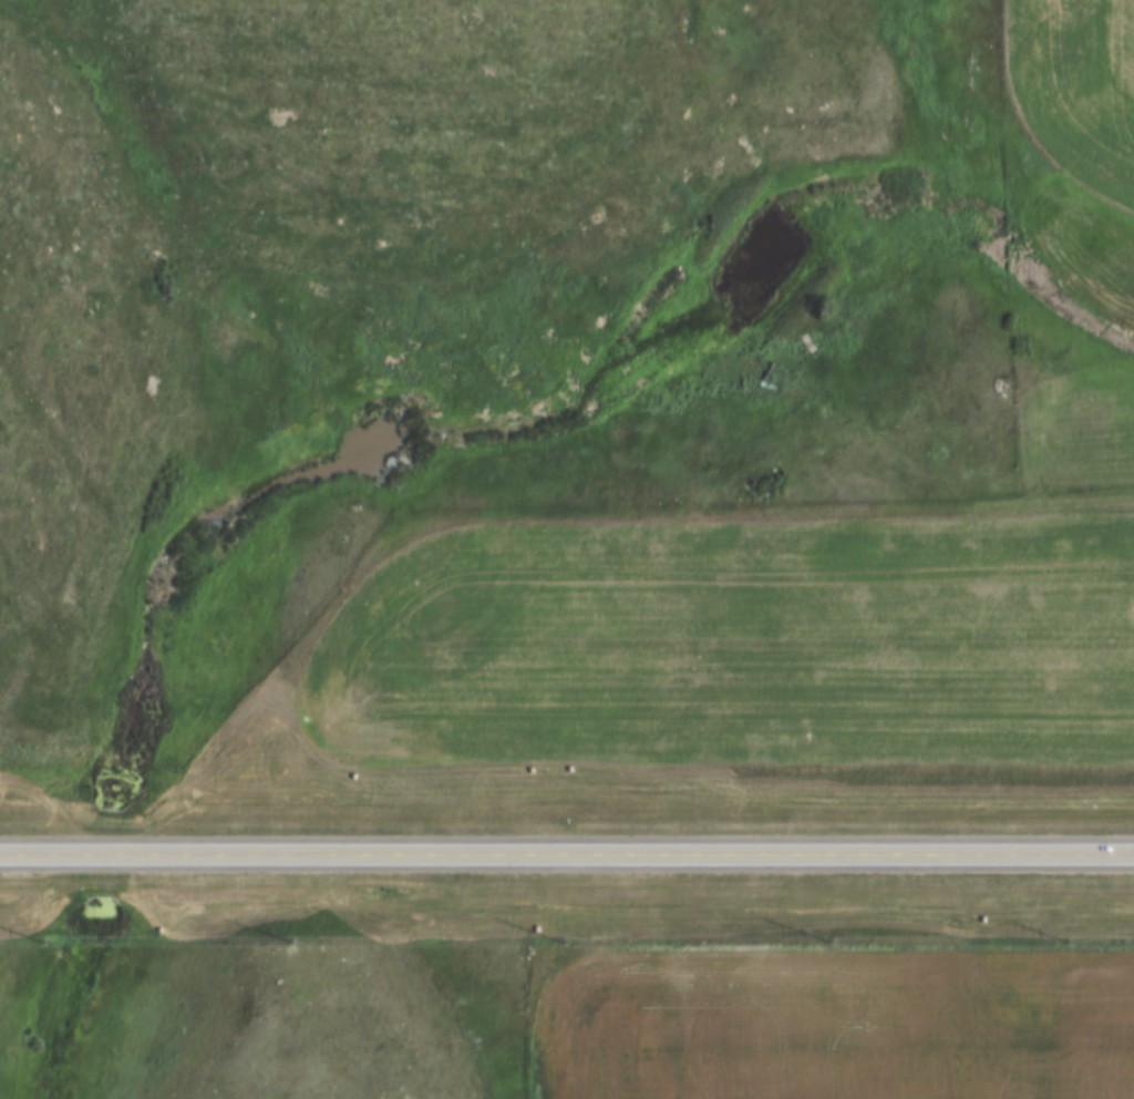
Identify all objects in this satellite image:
road: (566, 852)

